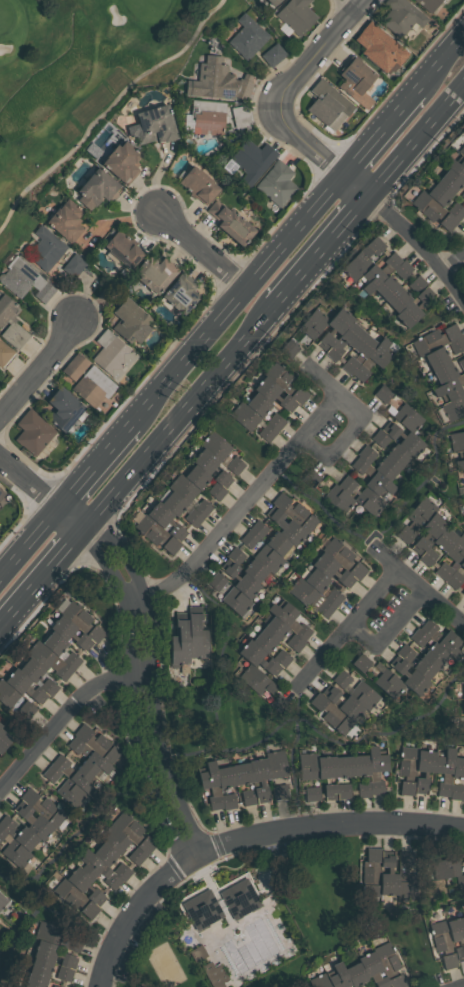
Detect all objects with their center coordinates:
building: (271, 3)
road: (355, 3)
building: (430, 5)
building: (295, 17)
building: (400, 17)
building: (247, 36)
building: (379, 46)
building: (274, 54)
road: (316, 55)
road: (439, 57)
park: (82, 79)
building: (219, 81)
building: (356, 81)
building: (328, 105)
building: (208, 119)
building: (152, 125)
road: (375, 132)
road: (415, 143)
building: (461, 149)
road: (315, 157)
building: (252, 160)
building: (121, 162)
building: (455, 163)
building: (449, 180)
building: (276, 183)
building: (198, 184)
building: (95, 188)
building: (438, 193)
building: (462, 194)
building: (432, 210)
building: (455, 210)
building: (65, 220)
building: (231, 223)
road: (408, 234)
road: (195, 245)
building: (46, 248)
building: (122, 249)
road: (320, 252)
building: (360, 261)
road: (454, 262)
building: (74, 265)
building: (379, 270)
building: (154, 274)
building: (25, 279)
building: (392, 279)
road: (454, 289)
building: (180, 293)
building: (405, 293)
road: (230, 297)
building: (412, 308)
building: (130, 321)
building: (11, 323)
building: (333, 327)
building: (304, 330)
building: (343, 340)
building: (434, 340)
building: (358, 352)
building: (443, 352)
building: (4, 353)
building: (112, 355)
building: (372, 360)
building: (461, 364)
road: (42, 365)
building: (75, 366)
building: (444, 372)
building: (285, 382)
road: (323, 385)
building: (449, 387)
building: (91, 388)
building: (270, 392)
building: (382, 393)
building: (257, 404)
building: (453, 407)
building: (63, 408)
building: (244, 416)
road: (180, 417)
building: (409, 420)
building: (274, 422)
building: (32, 432)
building: (266, 432)
building: (379, 438)
building: (403, 438)
road: (344, 439)
building: (456, 441)
building: (214, 445)
building: (365, 453)
building: (396, 455)
building: (204, 460)
building: (459, 462)
road: (94, 463)
building: (234, 465)
building: (386, 468)
building: (195, 476)
building: (310, 477)
building: (371, 477)
building: (221, 478)
building: (183, 488)
building: (216, 490)
building: (1, 493)
road: (43, 493)
building: (360, 495)
building: (335, 496)
building: (171, 501)
road: (244, 502)
building: (202, 507)
building: (294, 512)
building: (193, 517)
building: (416, 518)
building: (165, 520)
building: (286, 526)
building: (257, 528)
building: (429, 531)
building: (156, 534)
building: (248, 539)
road: (29, 540)
building: (278, 544)
building: (438, 545)
building: (456, 550)
road: (125, 553)
building: (235, 555)
building: (343, 557)
building: (268, 558)
building: (462, 563)
building: (332, 570)
building: (443, 570)
building: (258, 573)
building: (453, 579)
road: (43, 580)
building: (241, 580)
building: (323, 586)
building: (463, 592)
building: (229, 594)
building: (310, 596)
road: (430, 597)
road: (135, 598)
building: (330, 602)
building: (79, 619)
building: (288, 619)
road: (348, 626)
building: (429, 626)
building: (275, 628)
road: (388, 630)
building: (70, 633)
building: (195, 633)
building: (418, 636)
building: (178, 639)
building: (263, 641)
building: (294, 642)
building: (452, 646)
building: (60, 649)
building: (280, 657)
building: (438, 657)
building: (258, 659)
building: (48, 660)
building: (415, 661)
building: (37, 676)
building: (252, 677)
building: (340, 678)
building: (382, 678)
building: (413, 680)
building: (24, 686)
building: (462, 689)
road: (134, 695)
building: (366, 698)
building: (344, 703)
building: (463, 703)
building: (17, 704)
building: (329, 713)
road: (63, 714)
building: (463, 723)
building: (0, 725)
road: (158, 729)
building: (4, 739)
building: (97, 744)
building: (87, 756)
building: (275, 763)
building: (325, 766)
building: (457, 767)
building: (375, 769)
building: (422, 769)
building: (406, 770)
building: (444, 771)
building: (50, 773)
building: (73, 773)
building: (241, 773)
building: (309, 773)
building: (361, 774)
building: (343, 775)
building: (224, 776)
building: (259, 778)
building: (210, 784)
building: (279, 791)
building: (329, 791)
building: (455, 791)
building: (70, 793)
building: (248, 797)
building: (227, 801)
building: (42, 807)
building: (34, 822)
road: (331, 826)
building: (133, 831)
building: (17, 832)
building: (115, 838)
building: (13, 850)
building: (105, 853)
building: (136, 855)
building: (447, 867)
building: (97, 868)
building: (121, 870)
building: (370, 871)
building: (387, 876)
building: (406, 877)
building: (459, 882)
building: (84, 884)
building: (240, 896)
building: (75, 898)
building: (2, 901)
road: (135, 907)
building: (203, 908)
building: (463, 921)
building: (58, 935)
building: (439, 936)
building: (456, 936)
building: (197, 952)
building: (52, 953)
building: (386, 958)
building: (447, 960)
building: (1, 961)
building: (39, 967)
building: (373, 969)
building: (63, 973)
building: (216, 974)
building: (355, 974)
building: (338, 976)
building: (318, 977)
building: (34, 981)
building: (396, 981)
building: (14, 986)
building: (54, 986)

